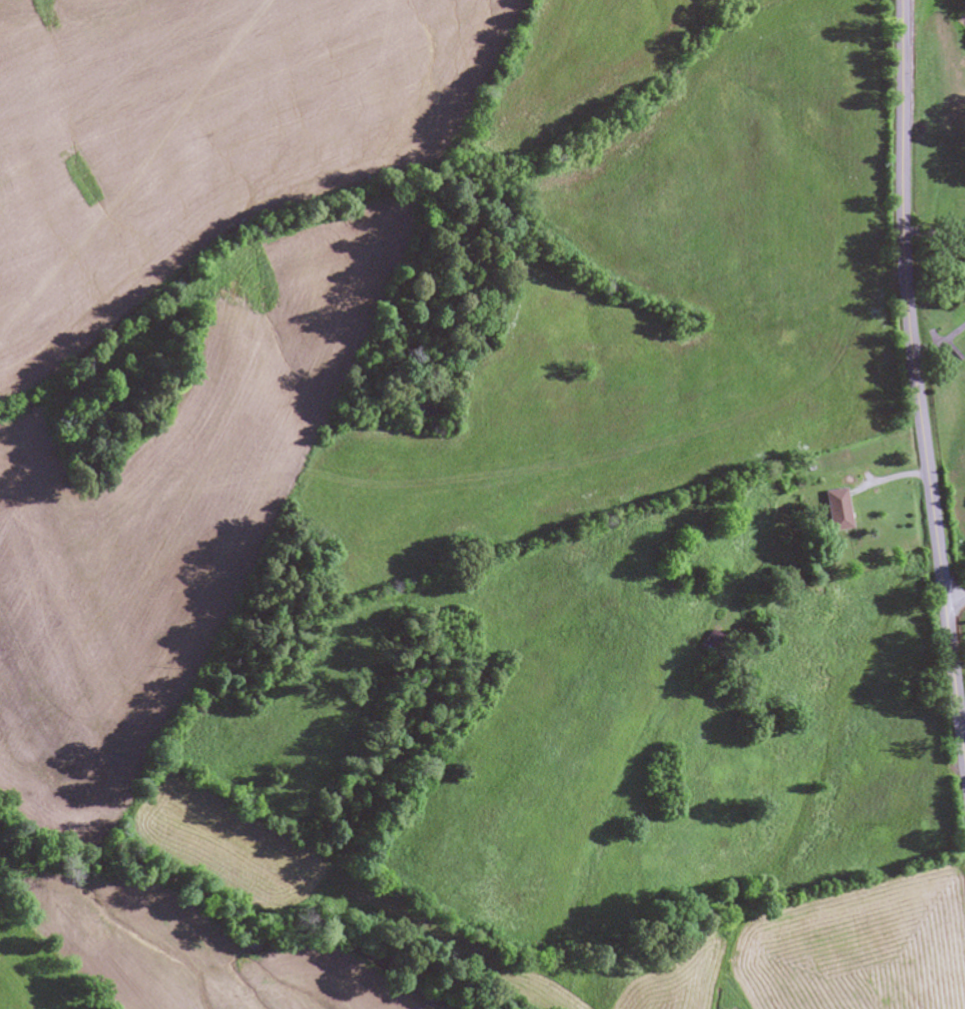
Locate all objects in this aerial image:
building: (961, 275)
road: (916, 379)
building: (833, 510)
road: (954, 595)

